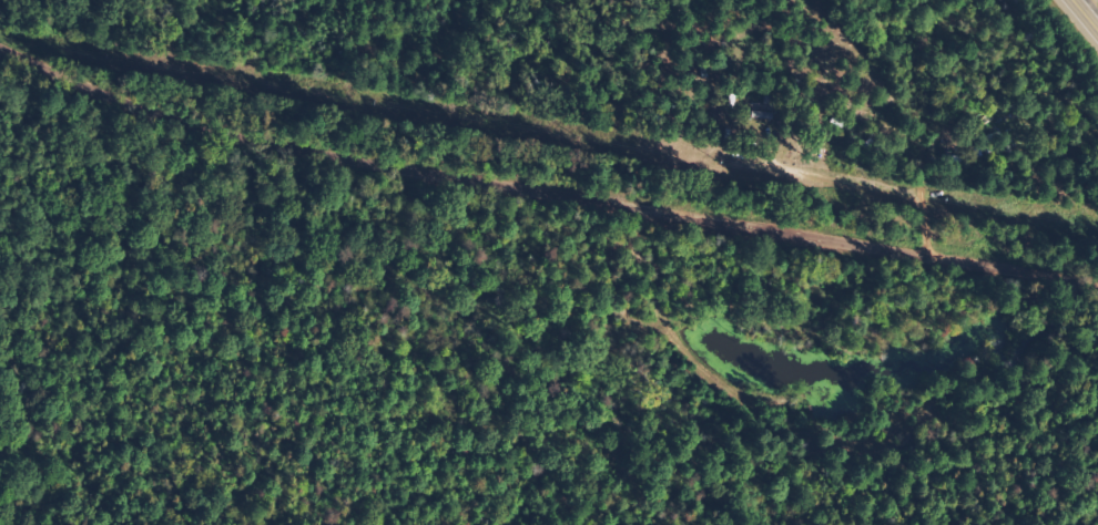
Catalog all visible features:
road: (1089, 10)
road: (541, 189)

